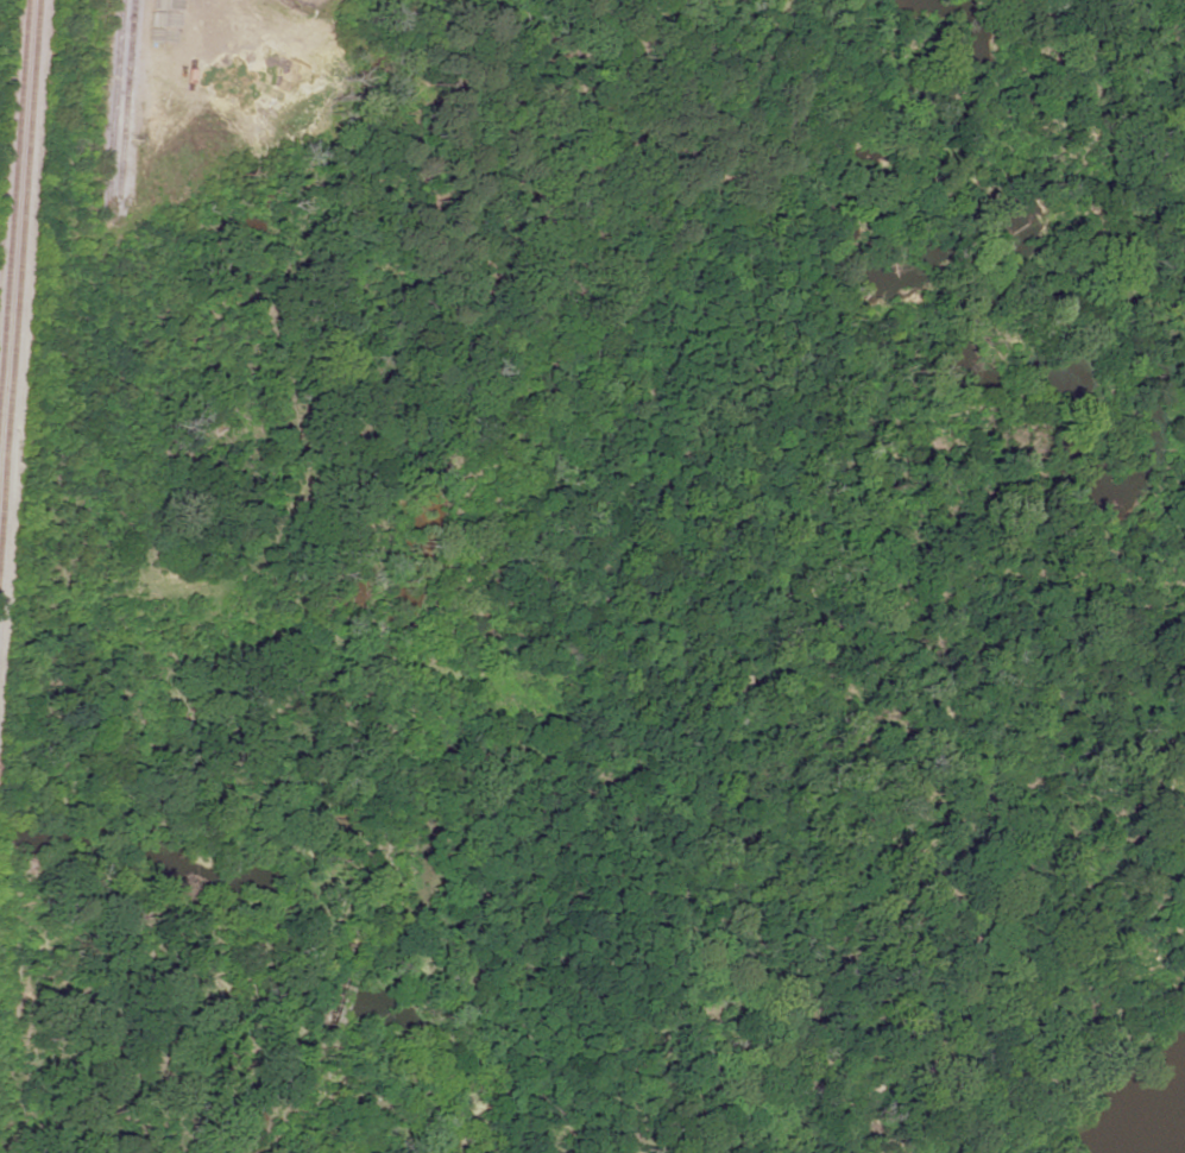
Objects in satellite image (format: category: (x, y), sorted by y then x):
railway: (119, 100)
railway: (108, 101)
railway: (12, 176)
railway: (18, 254)

